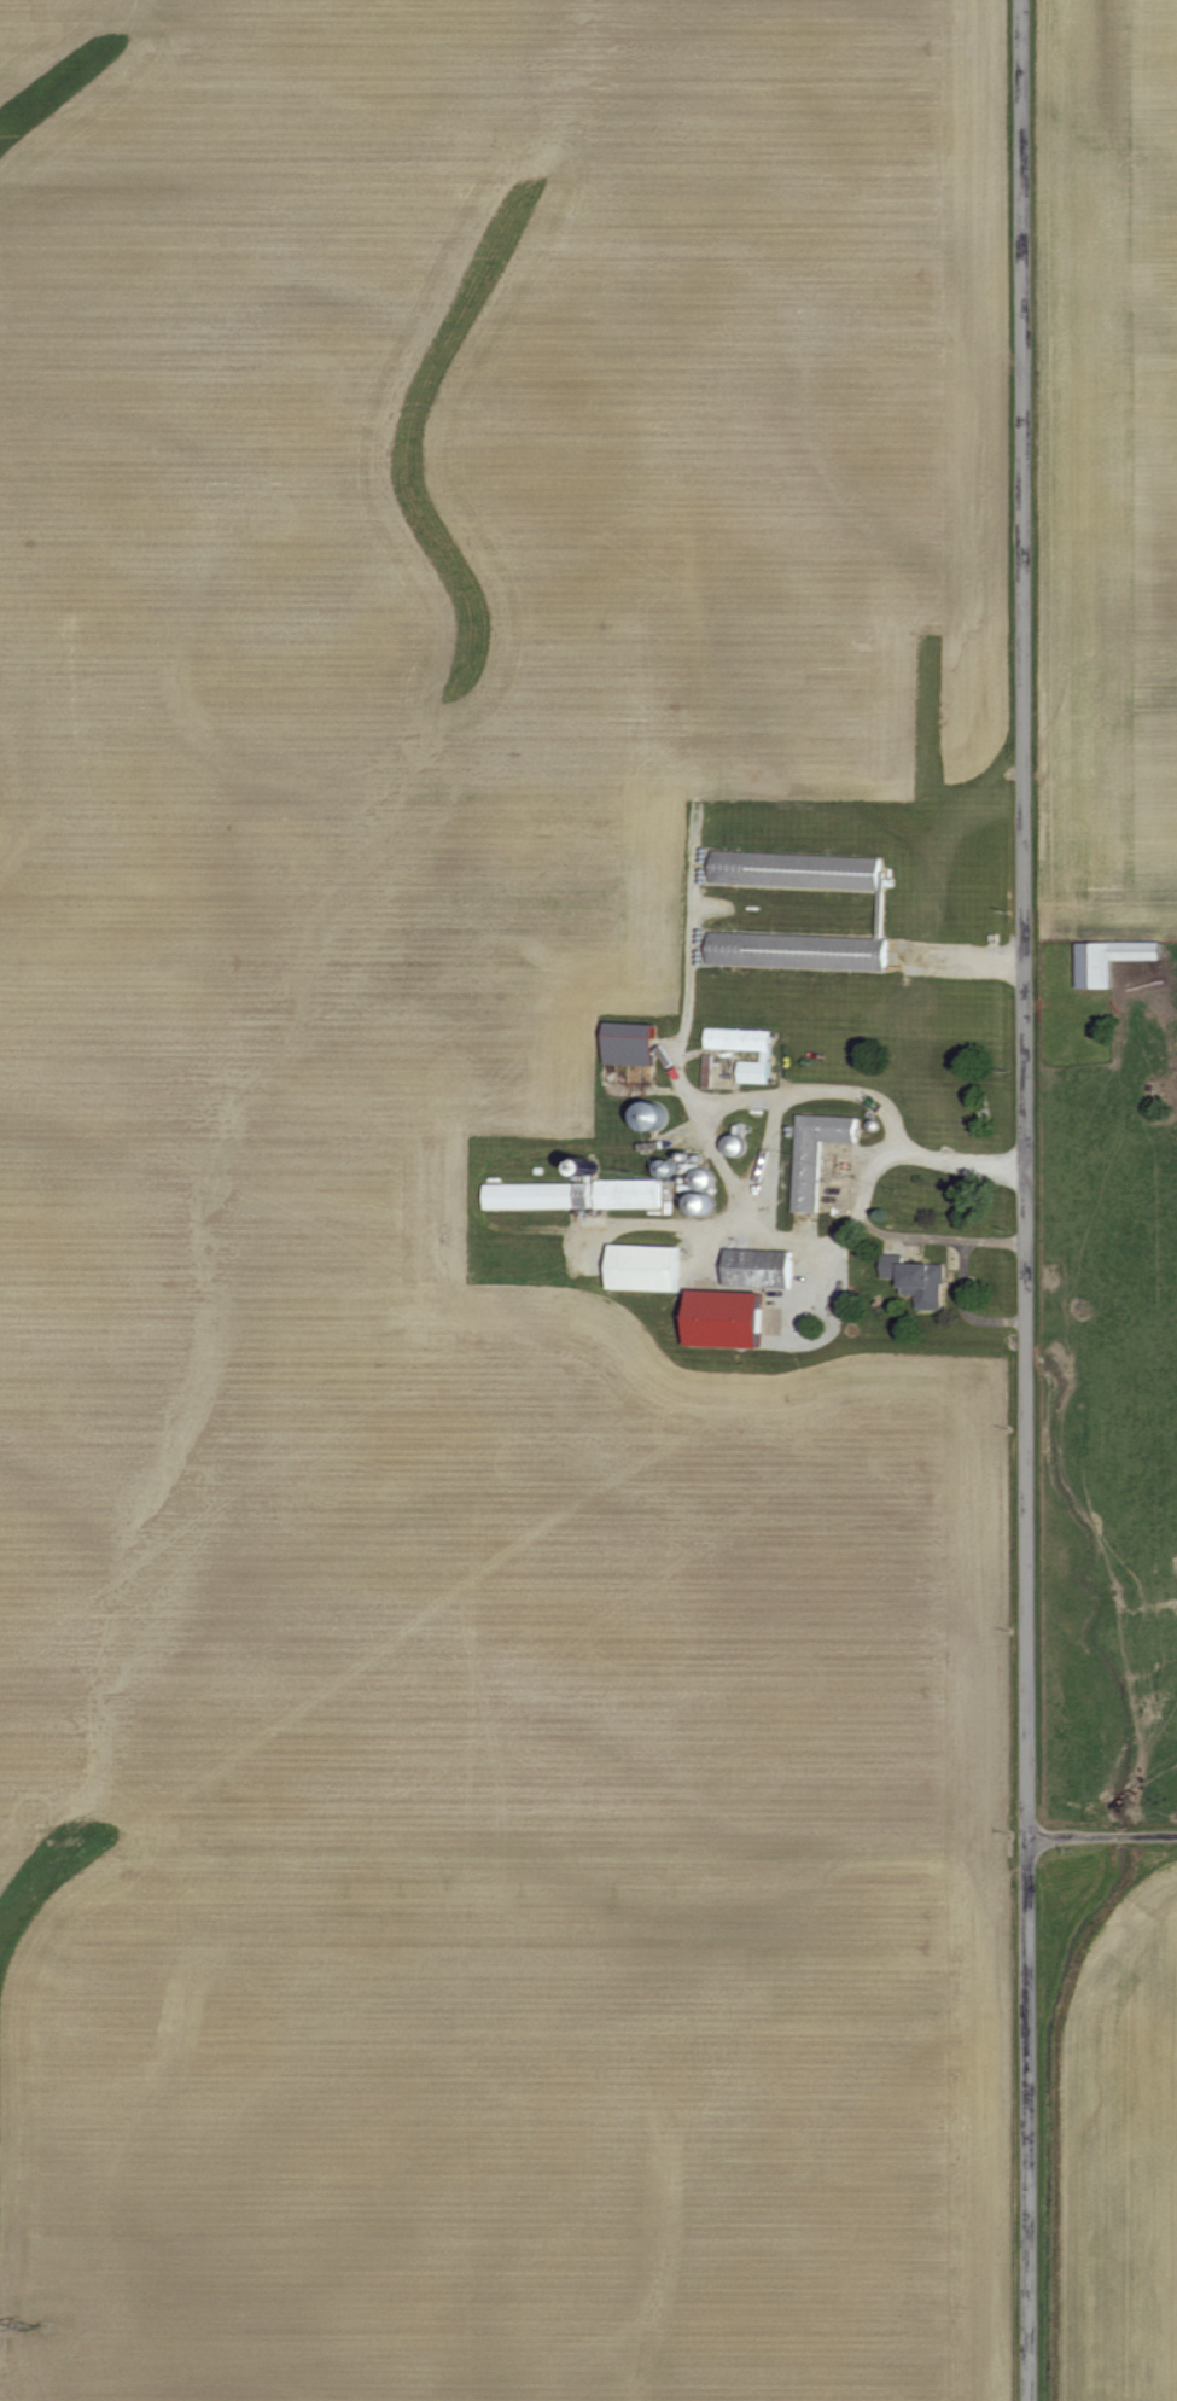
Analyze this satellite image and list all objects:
building: (802, 870)
building: (782, 952)
building: (1106, 960)
road: (688, 993)
building: (636, 1044)
road: (718, 1105)
building: (820, 1153)
building: (576, 1195)
road: (1015, 1200)
building: (649, 1267)
building: (761, 1269)
building: (930, 1284)
building: (733, 1321)
road: (1097, 1834)
power tower: (28, 2327)

